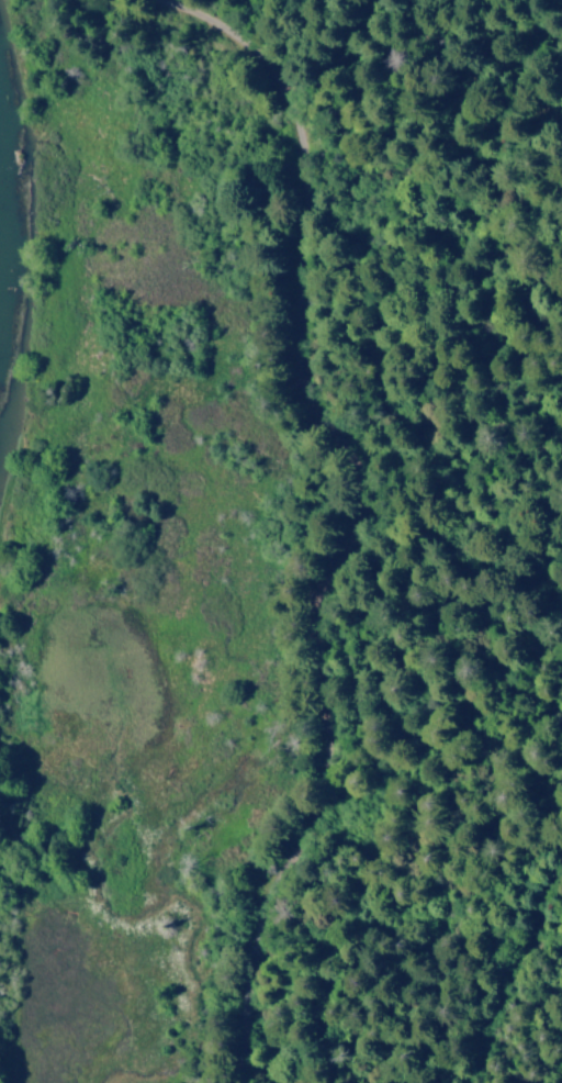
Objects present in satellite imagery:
road: (356, 506)
road: (501, 1003)
road: (245, 1042)

